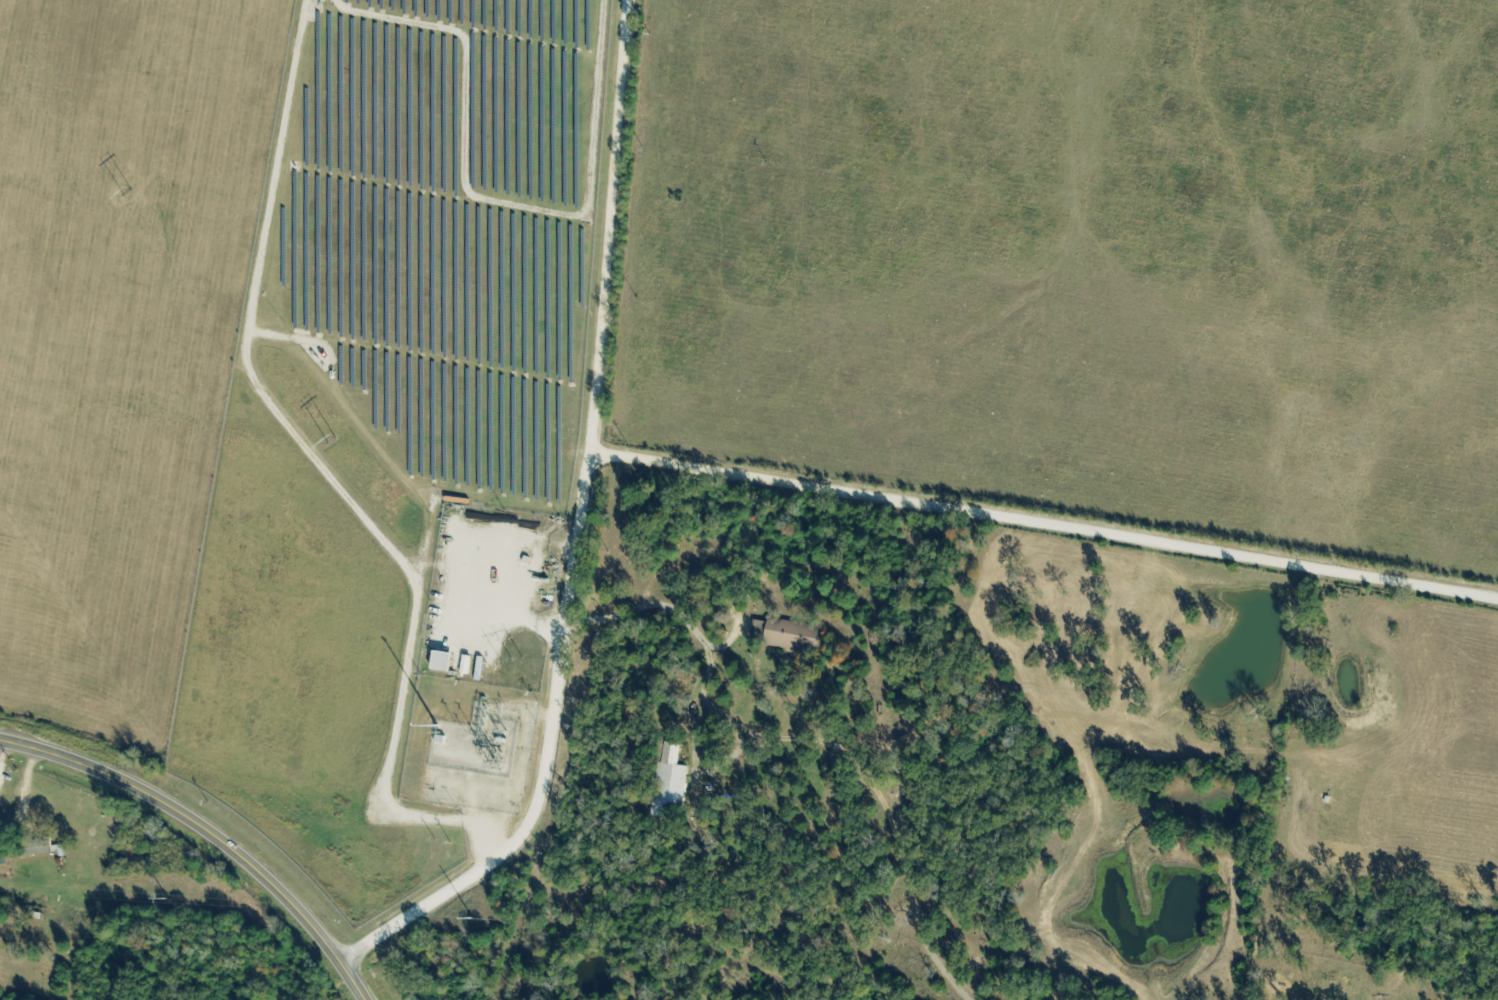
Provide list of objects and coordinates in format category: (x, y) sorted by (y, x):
power tower: (128, 193)
power tower: (332, 439)
road: (1045, 526)
road: (582, 530)
building: (795, 636)
power tower: (512, 660)
building: (446, 663)
power substation: (477, 742)
power tower: (499, 763)
building: (673, 783)
road: (210, 831)

